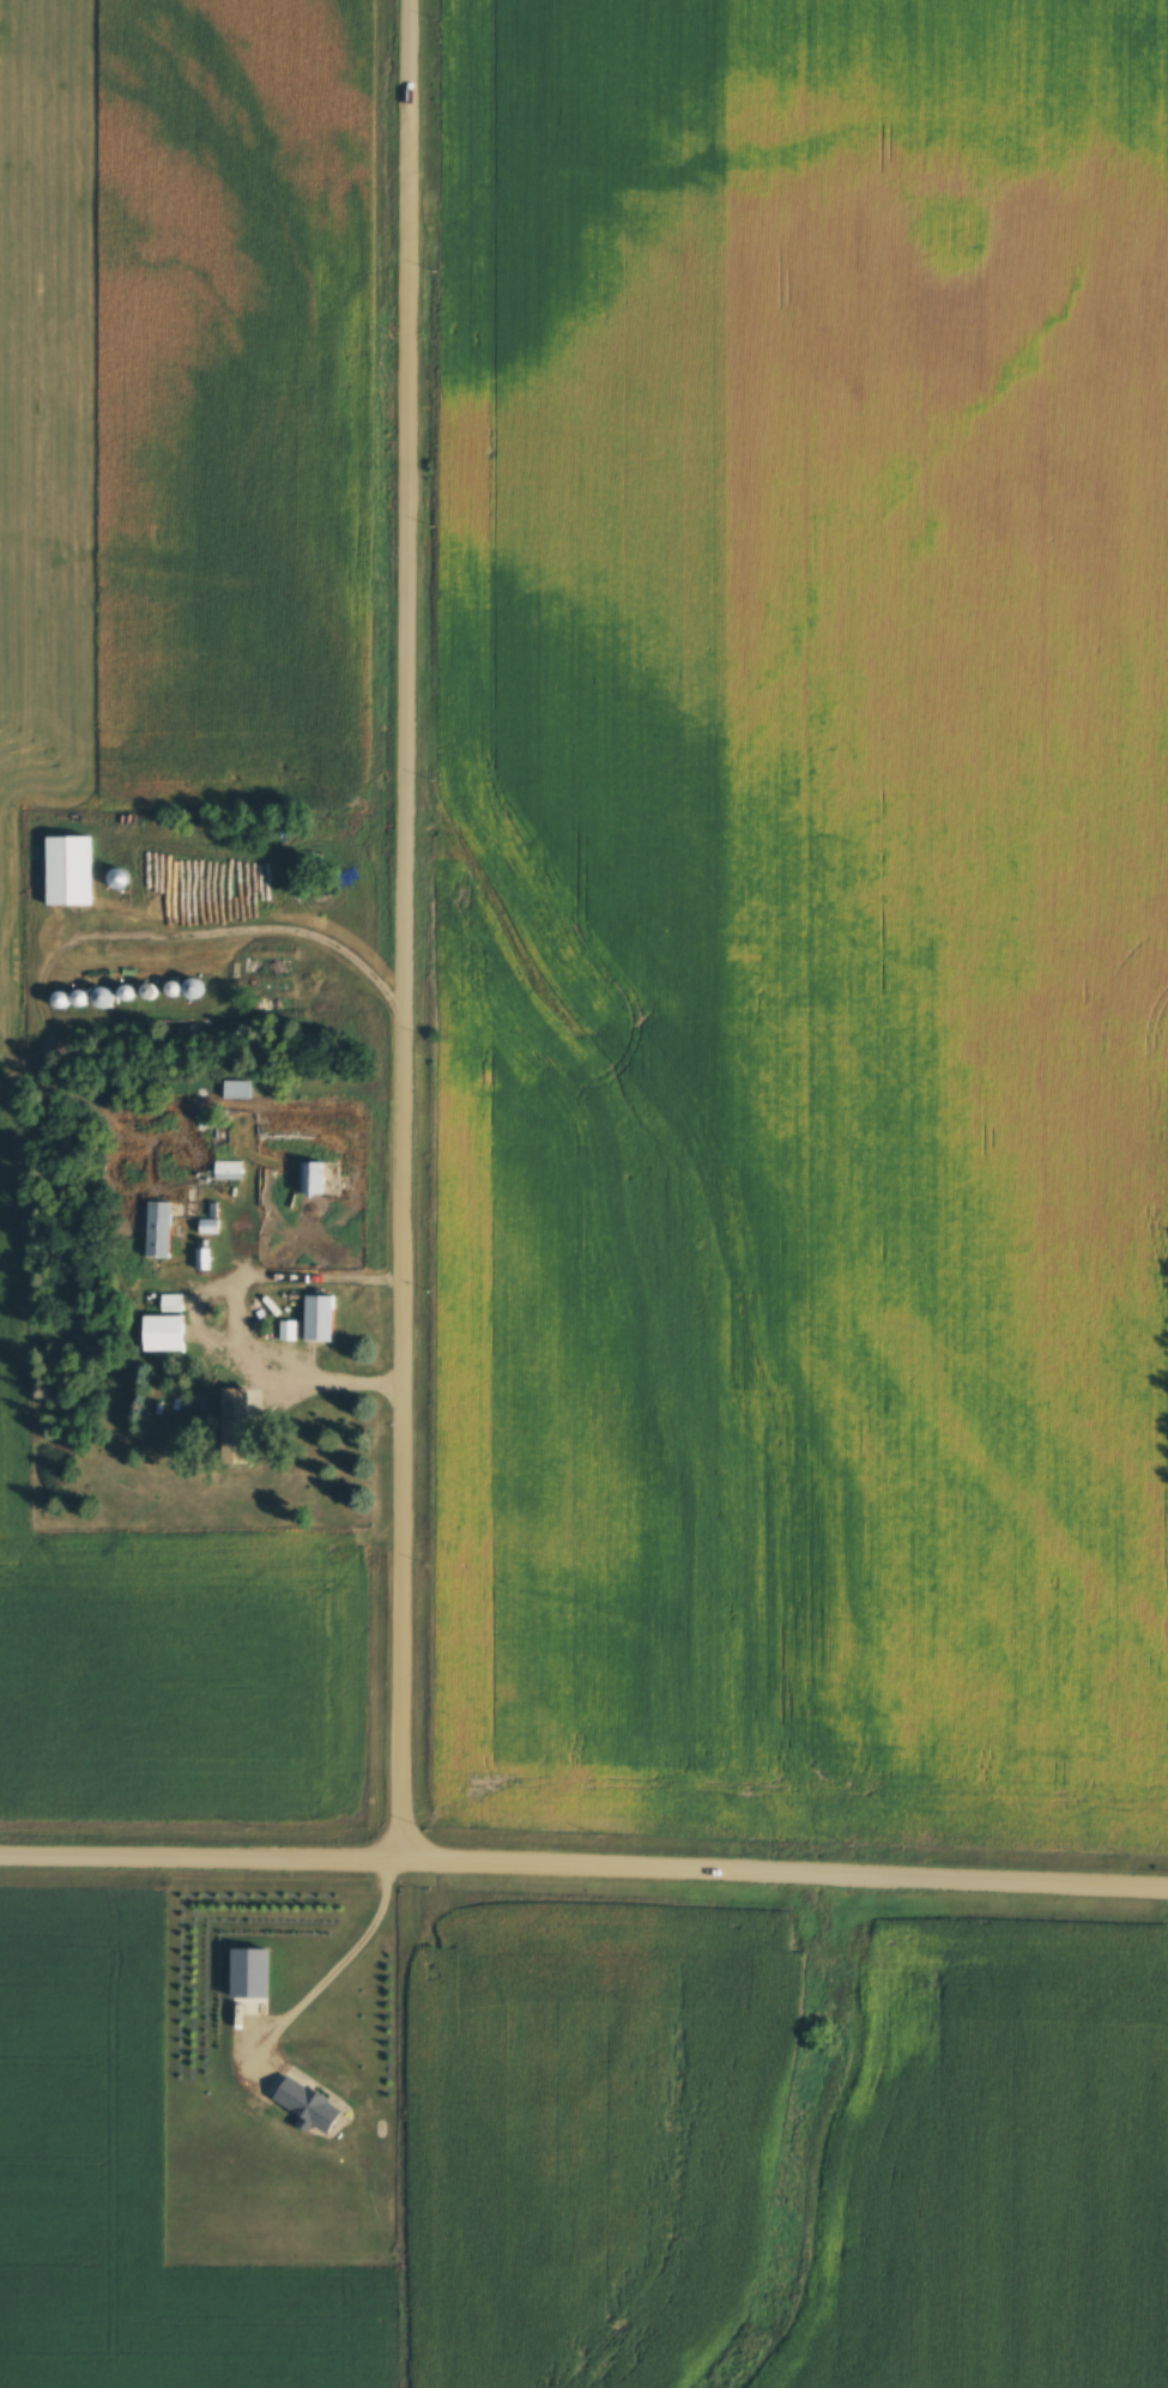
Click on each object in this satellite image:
building: (71, 871)
road: (405, 924)
building: (238, 1089)
building: (231, 1171)
building: (315, 1179)
building: (211, 1226)
building: (161, 1229)
building: (205, 1260)
building: (173, 1302)
building: (321, 1318)
building: (165, 1334)
building: (241, 1446)
road: (583, 1856)
road: (345, 1959)
building: (313, 2105)

